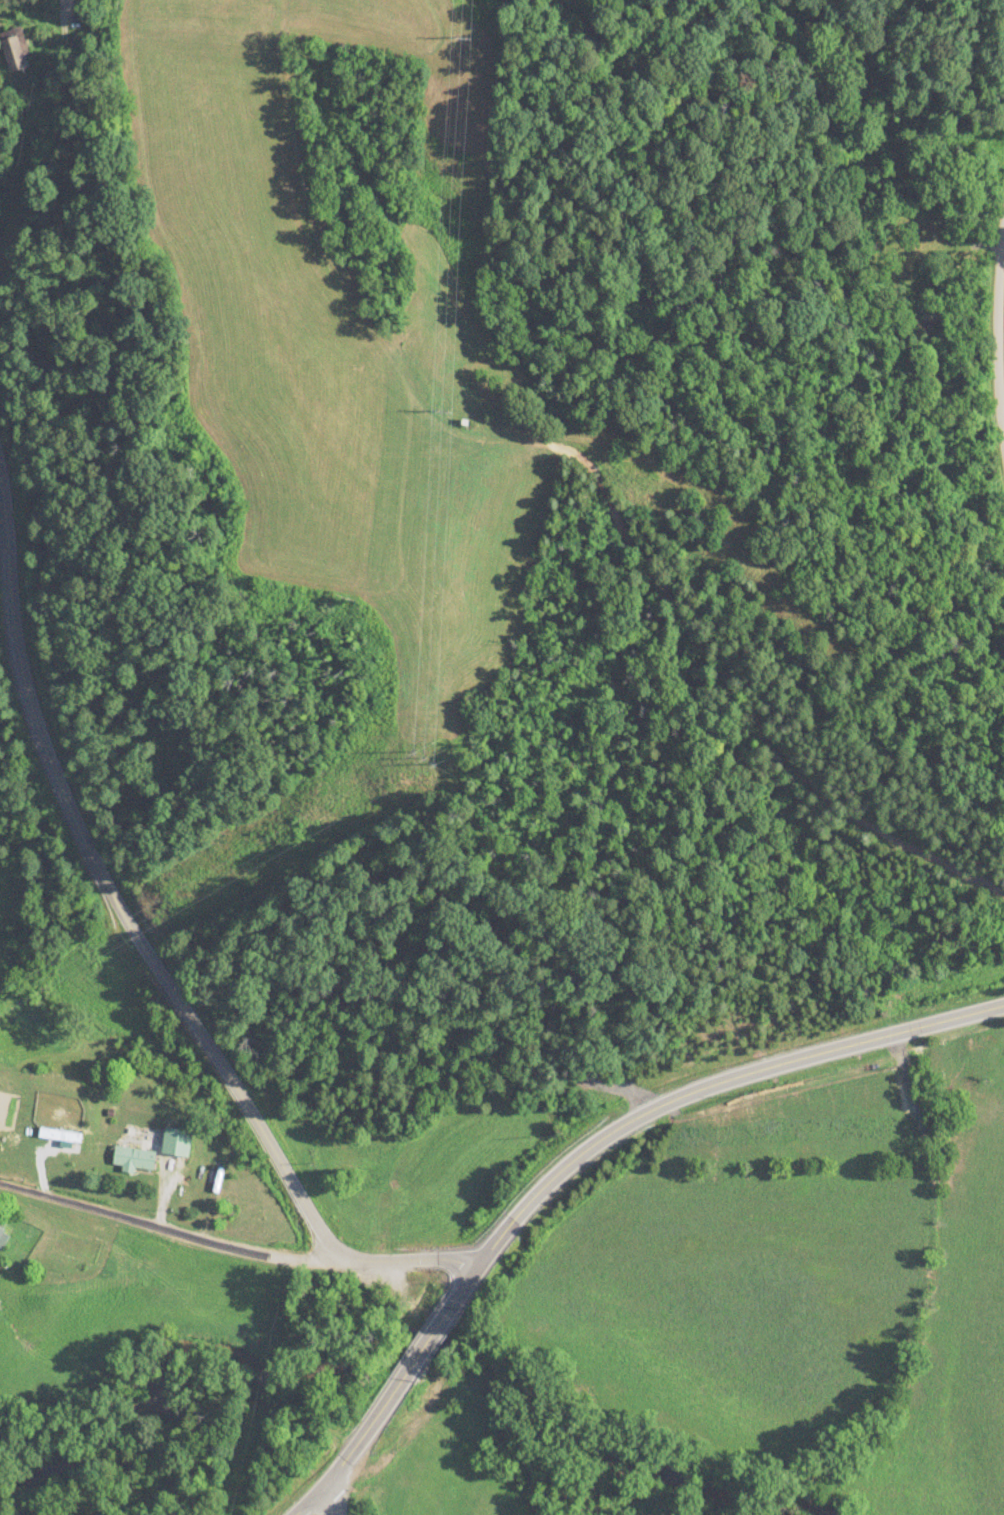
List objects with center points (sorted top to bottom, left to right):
road: (62, 30)
power tower: (466, 37)
building: (14, 51)
power tower: (447, 411)
power tower: (428, 757)
road: (109, 893)
road: (690, 1095)
building: (59, 1136)
building: (176, 1143)
building: (133, 1159)
building: (1, 1229)
road: (166, 1233)
road: (412, 1257)
river: (395, 1343)
road: (428, 1345)
road: (354, 1451)
road: (330, 1501)

